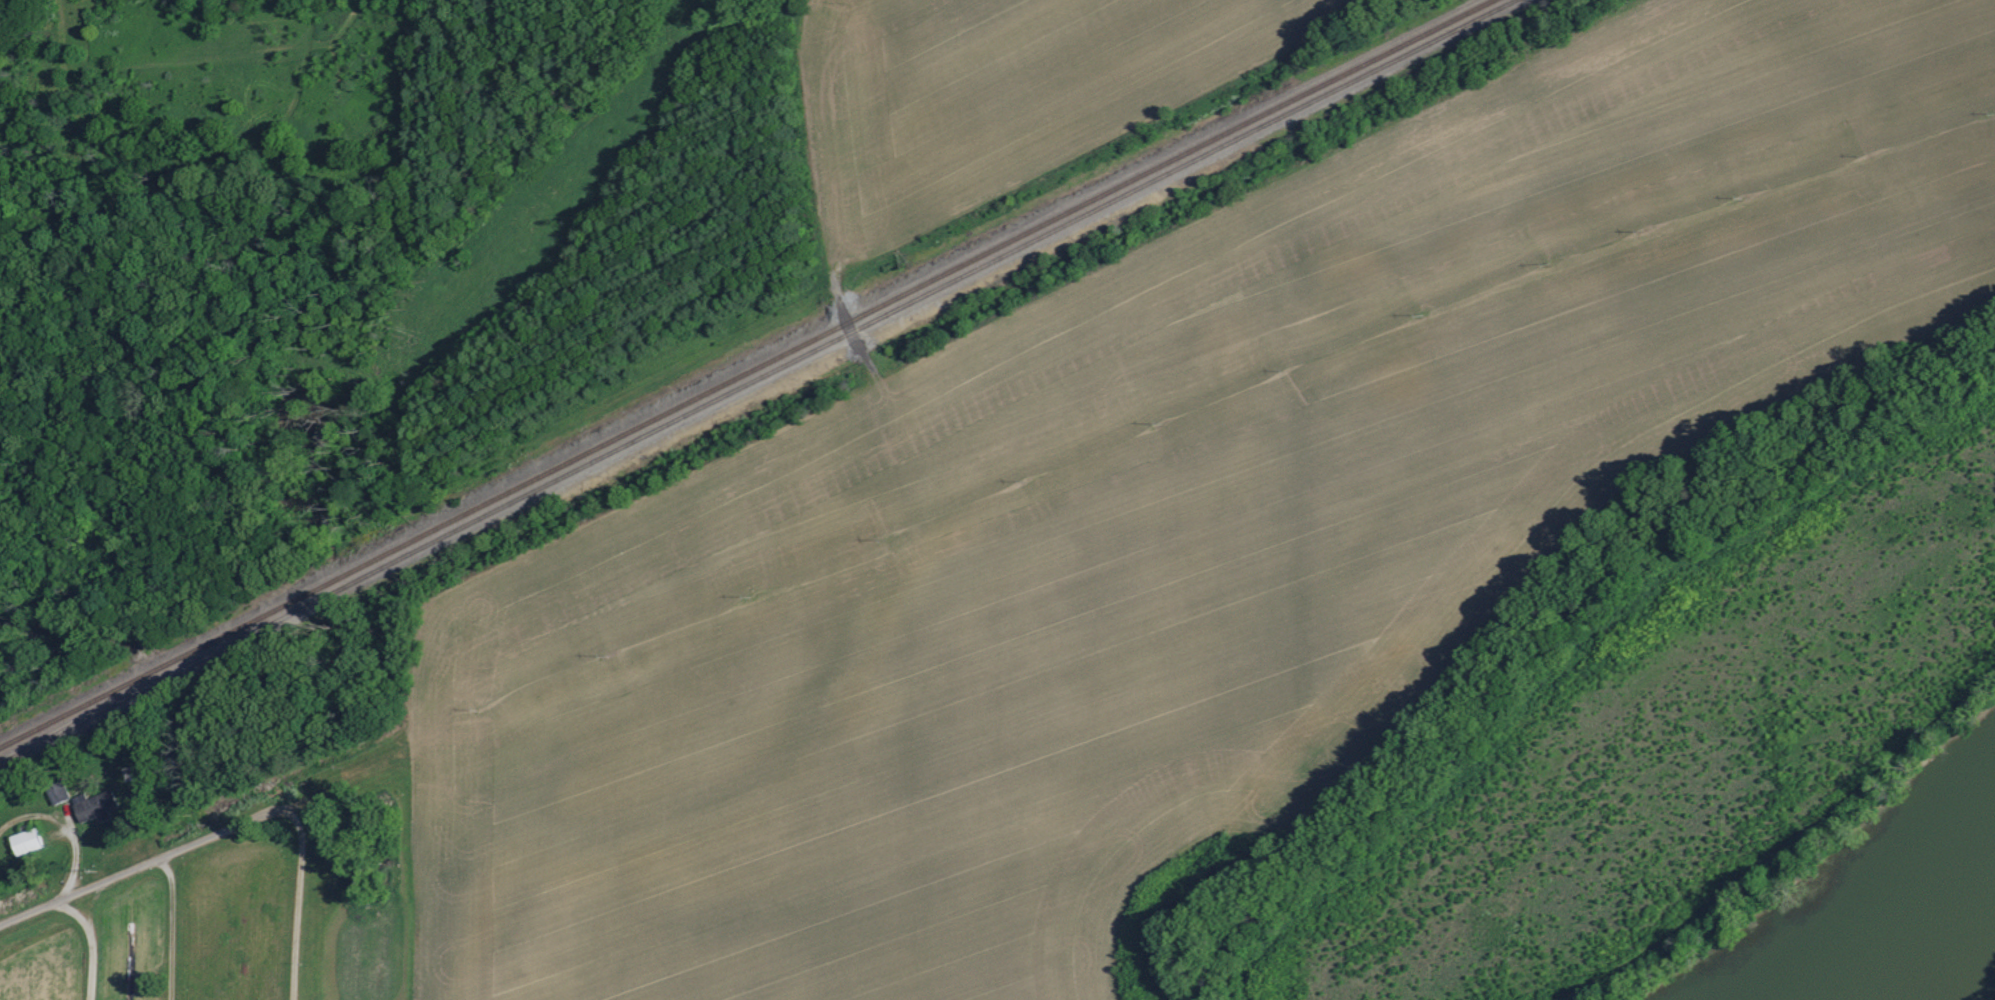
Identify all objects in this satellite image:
railway: (745, 370)
railway: (756, 381)
building: (97, 805)
road: (65, 830)
building: (28, 841)
road: (132, 873)
road: (299, 895)
road: (174, 928)
river: (1911, 928)
road: (91, 944)

